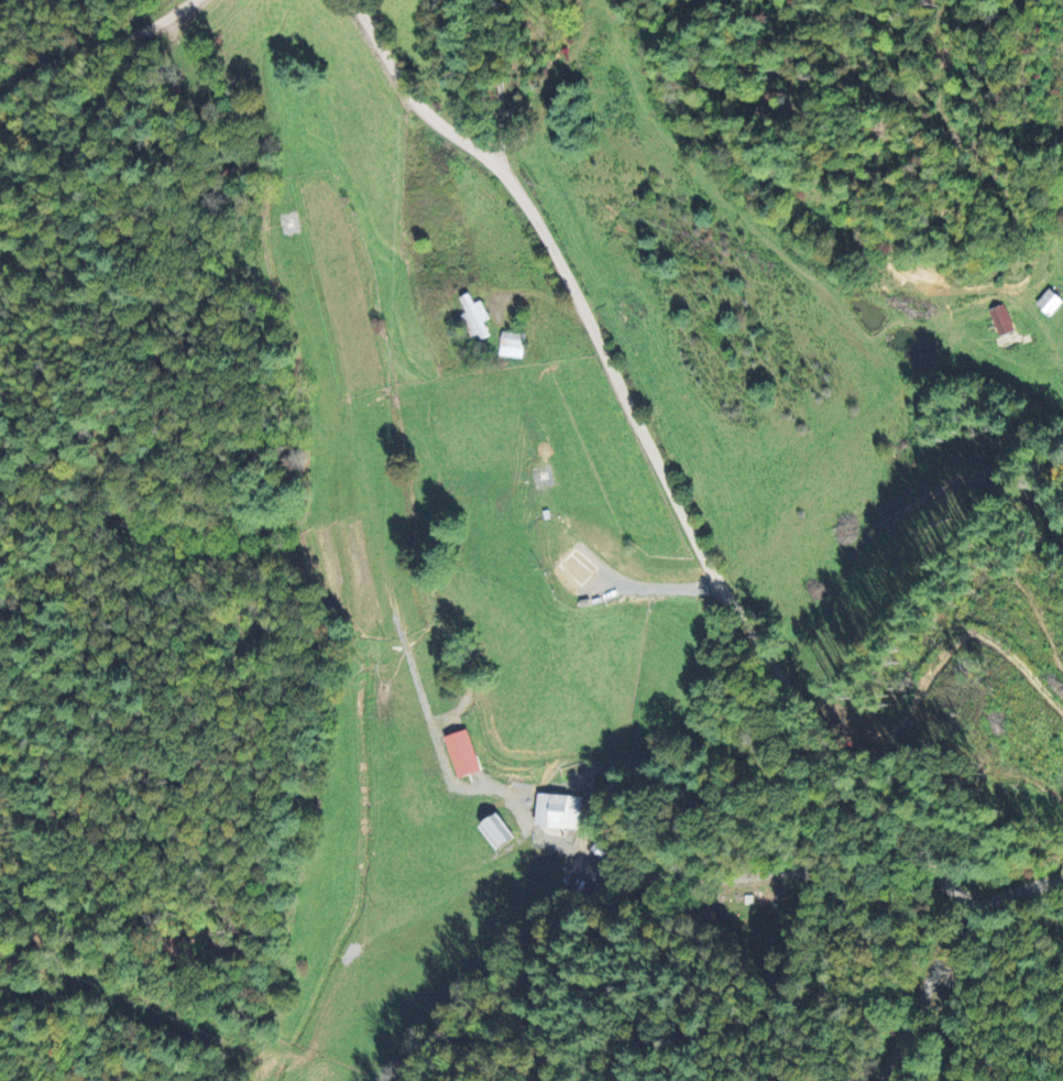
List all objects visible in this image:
road: (97, 48)
road: (500, 85)
building: (1051, 302)
building: (475, 315)
building: (1002, 319)
building: (512, 343)
road: (672, 498)
building: (463, 753)
building: (559, 811)
building: (497, 832)
road: (940, 992)

